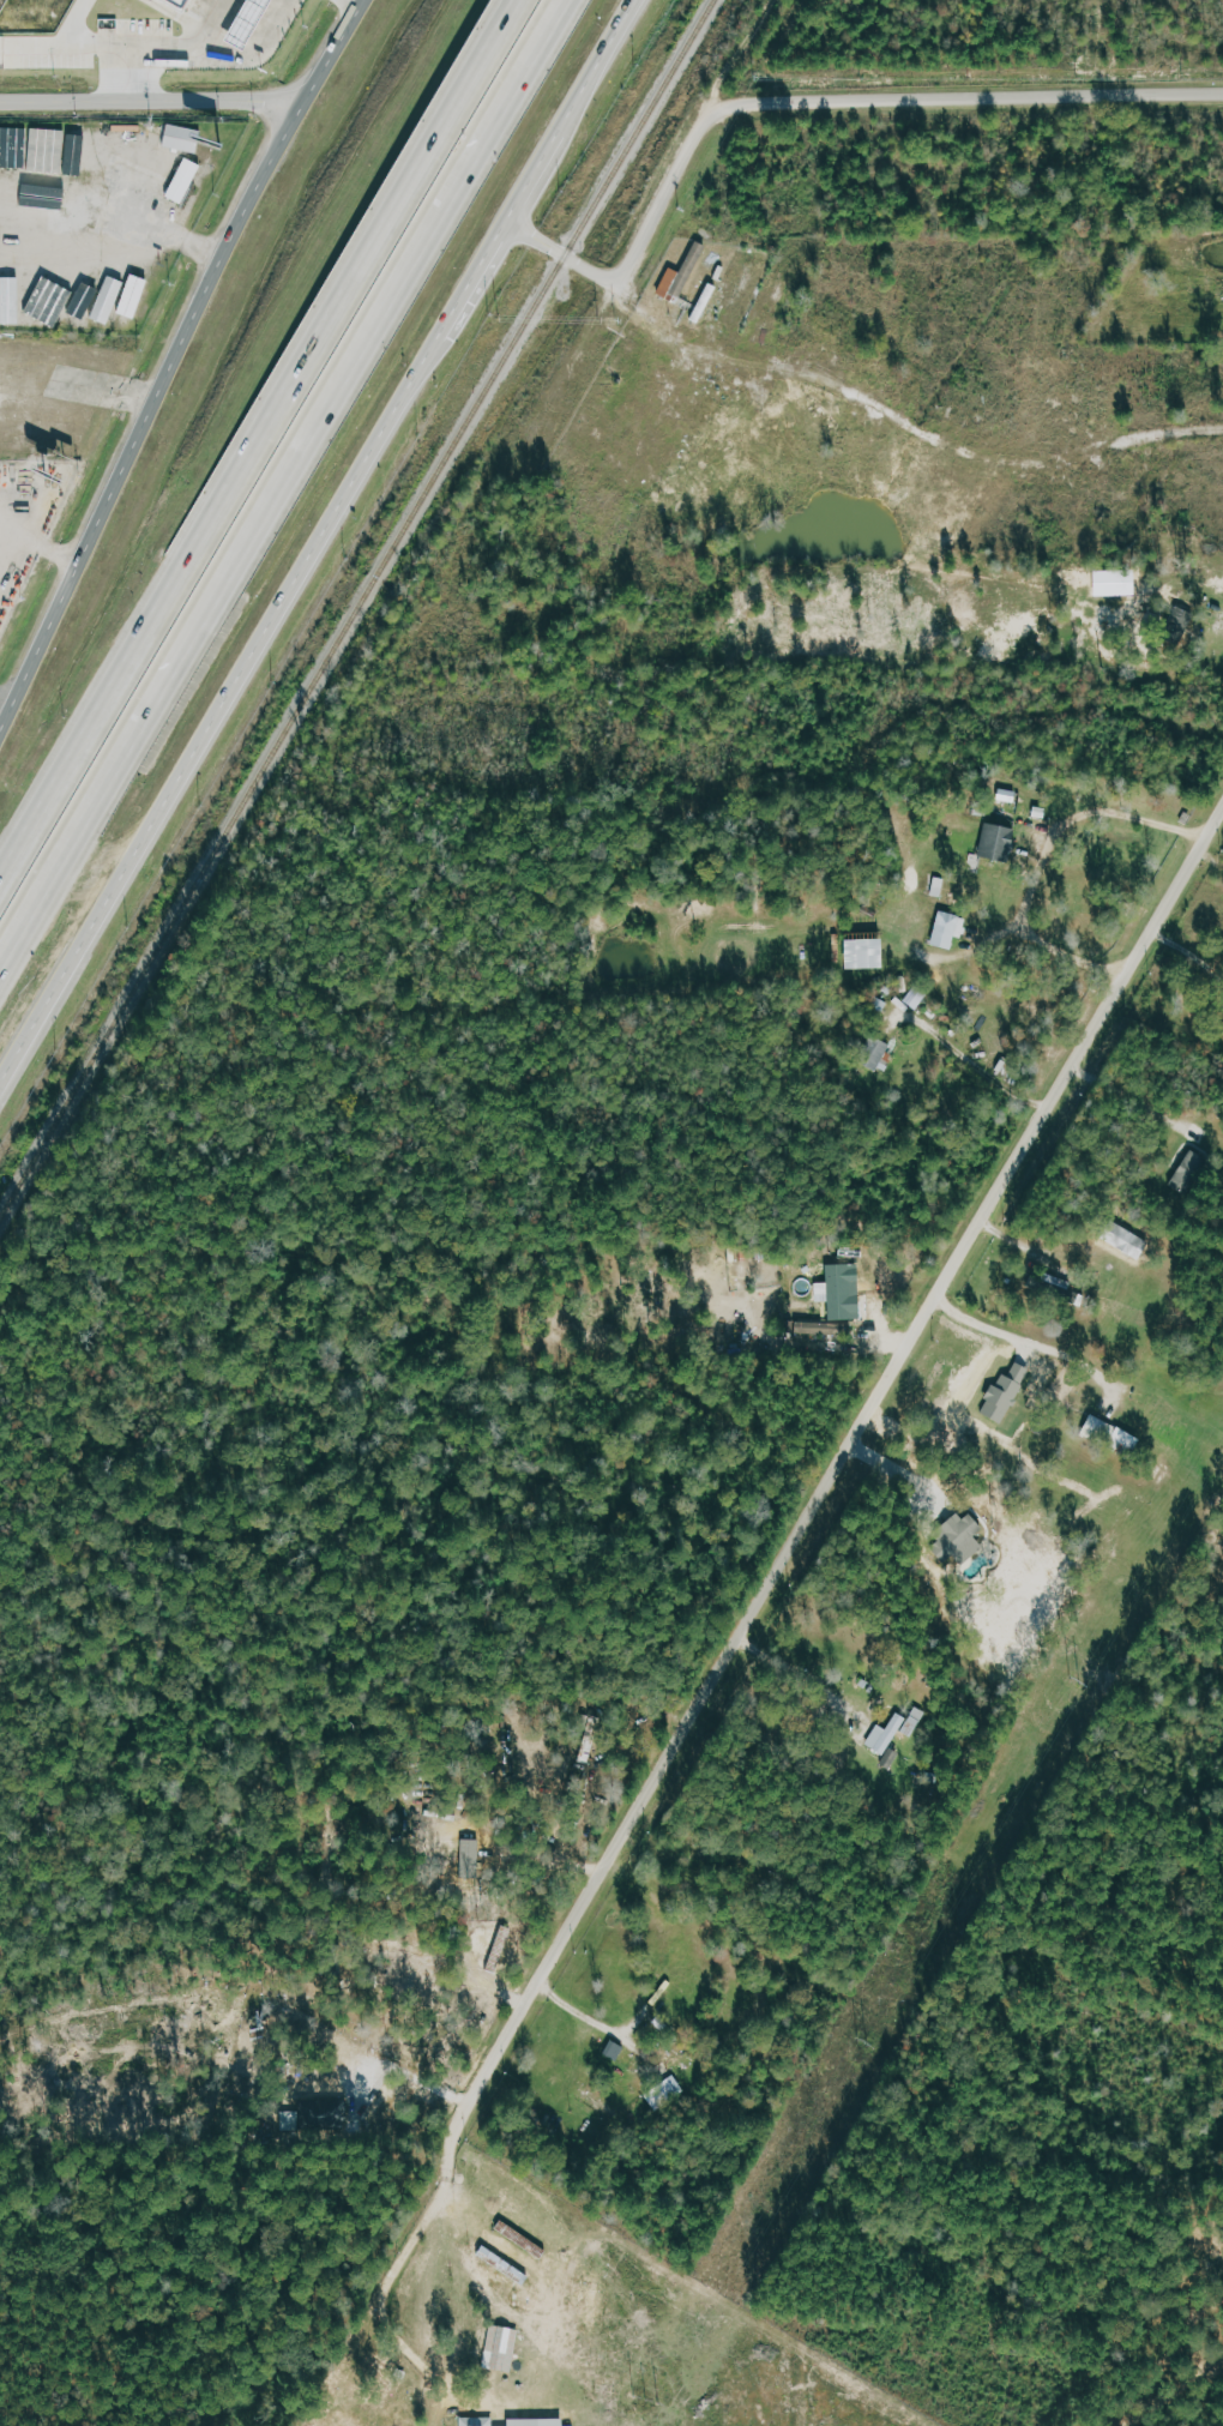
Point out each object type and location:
building: (176, 2)
building: (191, 2)
building: (247, 23)
gas station: (247, 23)
road: (41, 46)
road: (72, 46)
road: (200, 54)
road: (151, 103)
road: (803, 103)
building: (186, 139)
building: (187, 181)
road: (114, 216)
building: (673, 284)
building: (0, 300)
building: (85, 301)
building: (32, 302)
building: (706, 303)
road: (173, 366)
road: (260, 441)
road: (284, 484)
road: (40, 542)
road: (320, 544)
road: (4, 550)
railway: (356, 609)
road: (8, 700)
building: (1001, 842)
road: (1046, 857)
building: (952, 929)
building: (870, 953)
building: (918, 997)
building: (878, 1053)
road: (1133, 1100)
building: (1192, 1172)
building: (841, 1292)
building: (819, 1329)
road: (1034, 1340)
road: (875, 1414)
building: (1115, 1434)
road: (800, 1670)
power tower: (1072, 1680)
building: (887, 1735)
power tower: (863, 2043)
building: (615, 2048)
road: (417, 2079)
building: (668, 2093)
building: (331, 2123)
road: (452, 2210)
building: (504, 2263)
building: (504, 2347)
power tower: (649, 2404)
building: (480, 2421)
building: (542, 2421)

